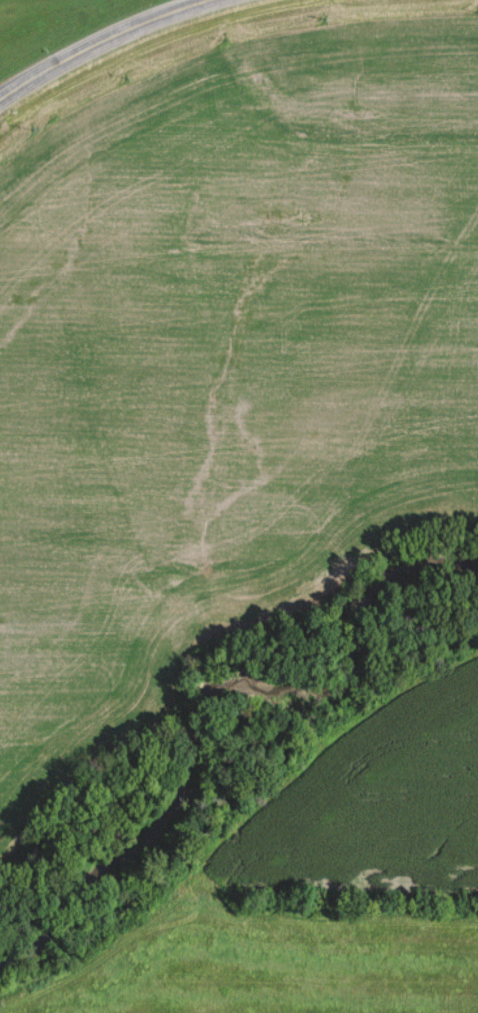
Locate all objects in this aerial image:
road: (104, 39)

